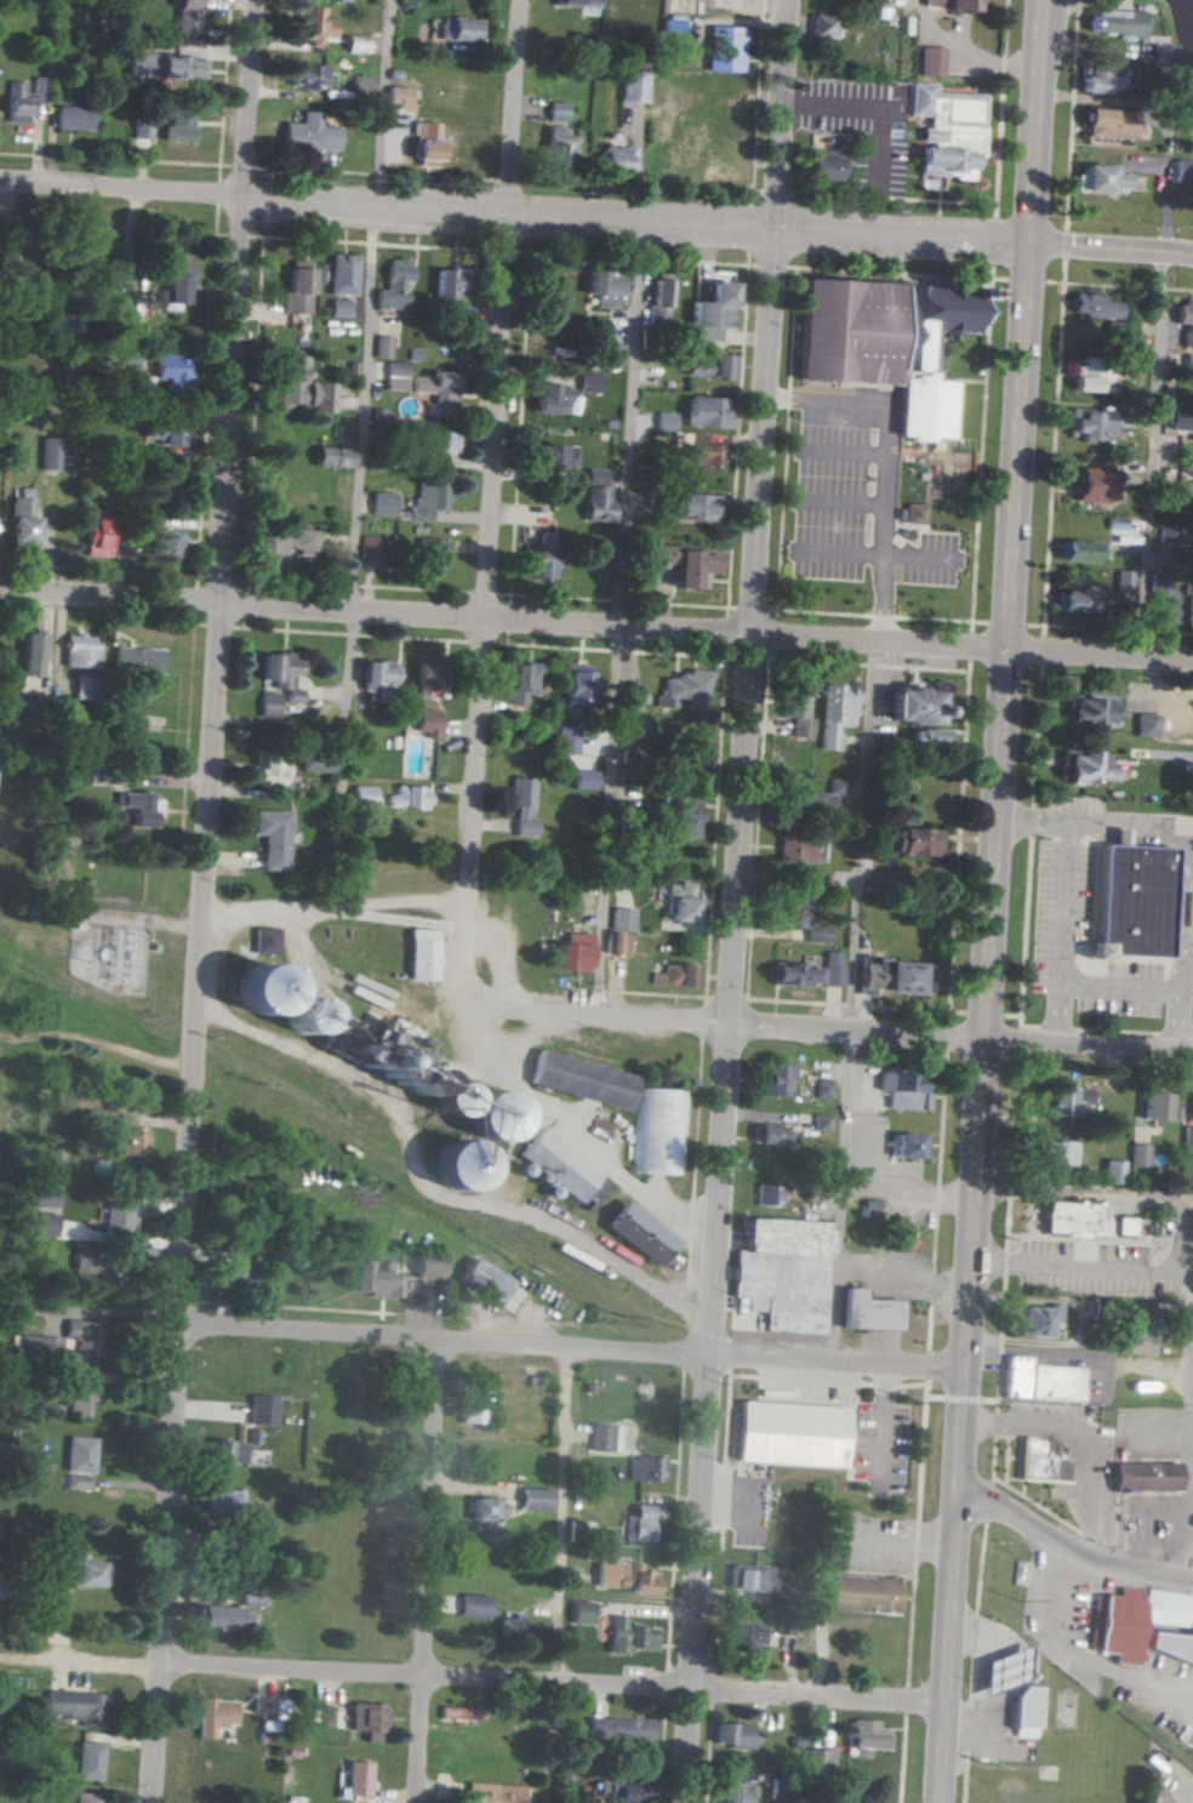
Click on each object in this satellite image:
building: (580, 2)
road: (760, 4)
building: (947, 4)
building: (187, 16)
building: (1115, 23)
building: (312, 25)
building: (823, 25)
building: (461, 29)
building: (725, 49)
building: (1159, 52)
building: (929, 61)
building: (165, 65)
building: (307, 75)
building: (1098, 79)
building: (634, 86)
building: (361, 87)
building: (398, 96)
building: (23, 99)
road: (379, 102)
road: (999, 109)
building: (559, 110)
road: (1071, 116)
building: (73, 118)
building: (1106, 124)
building: (178, 125)
road: (875, 127)
building: (142, 129)
building: (944, 130)
building: (310, 133)
building: (560, 143)
building: (426, 144)
building: (616, 159)
building: (820, 165)
building: (1180, 171)
building: (1100, 179)
road: (1161, 186)
road: (514, 215)
road: (993, 243)
road: (1064, 246)
road: (1111, 250)
building: (342, 274)
road: (992, 279)
road: (1062, 280)
road: (1026, 281)
building: (177, 283)
building: (447, 284)
building: (393, 285)
building: (297, 289)
building: (604, 289)
building: (658, 299)
building: (1092, 307)
building: (337, 308)
building: (712, 312)
building: (1185, 323)
building: (1118, 332)
building: (890, 343)
building: (381, 347)
building: (609, 355)
building: (126, 358)
building: (1187, 360)
building: (708, 366)
building: (173, 371)
building: (395, 376)
building: (1091, 376)
building: (588, 382)
building: (301, 389)
building: (436, 390)
building: (552, 399)
road: (364, 407)
building: (707, 412)
building: (1181, 420)
building: (663, 421)
building: (1092, 424)
road: (627, 427)
building: (165, 432)
building: (440, 441)
building: (50, 453)
building: (701, 453)
building: (552, 455)
road: (1153, 455)
building: (332, 457)
road: (881, 467)
building: (1092, 484)
building: (595, 493)
road: (491, 498)
building: (428, 500)
building: (382, 503)
building: (696, 507)
building: (912, 513)
building: (149, 517)
building: (22, 519)
building: (97, 534)
building: (166, 544)
building: (282, 546)
building: (369, 548)
building: (1078, 552)
building: (540, 554)
road: (872, 555)
building: (430, 557)
building: (686, 565)
building: (1123, 580)
building: (1159, 598)
building: (1077, 600)
building: (1189, 609)
road: (504, 621)
building: (80, 650)
building: (30, 655)
road: (1101, 656)
building: (137, 660)
building: (281, 674)
building: (427, 675)
building: (379, 679)
building: (523, 681)
building: (82, 686)
building: (576, 686)
building: (684, 690)
building: (268, 704)
building: (917, 704)
building: (797, 708)
building: (834, 714)
building: (427, 723)
building: (1145, 725)
building: (635, 728)
building: (565, 740)
building: (927, 740)
building: (315, 763)
building: (693, 763)
building: (1083, 766)
building: (270, 771)
building: (584, 780)
building: (363, 795)
building: (407, 798)
building: (811, 803)
building: (523, 805)
building: (139, 808)
building: (685, 817)
road: (1033, 820)
road: (607, 821)
road: (1118, 825)
building: (272, 839)
road: (856, 839)
building: (914, 841)
building: (794, 846)
road: (201, 901)
road: (740, 901)
road: (993, 901)
building: (1130, 901)
building: (681, 903)
road: (338, 908)
building: (792, 911)
road: (407, 919)
building: (622, 919)
building: (816, 934)
building: (267, 941)
building: (617, 943)
building: (572, 952)
building: (423, 954)
building: (830, 970)
building: (675, 975)
building: (793, 975)
building: (889, 977)
road: (1117, 986)
building: (261, 988)
road: (727, 1027)
road: (1089, 1051)
building: (581, 1079)
building: (775, 1079)
building: (822, 1089)
building: (901, 1089)
building: (1064, 1100)
building: (1154, 1106)
building: (479, 1109)
building: (821, 1123)
road: (578, 1124)
building: (657, 1130)
building: (776, 1135)
building: (1187, 1139)
building: (122, 1143)
building: (907, 1146)
road: (510, 1152)
building: (1054, 1153)
building: (1138, 1156)
building: (458, 1164)
building: (563, 1169)
road: (847, 1171)
building: (1112, 1171)
road: (426, 1187)
road: (1112, 1191)
building: (766, 1194)
building: (45, 1200)
building: (116, 1215)
building: (1074, 1219)
building: (1125, 1226)
building: (52, 1227)
road: (897, 1231)
building: (639, 1234)
building: (82, 1265)
road: (833, 1267)
road: (1078, 1268)
road: (901, 1272)
building: (109, 1273)
building: (783, 1273)
building: (236, 1274)
building: (377, 1282)
building: (491, 1284)
building: (867, 1312)
building: (1039, 1320)
building: (1143, 1324)
building: (82, 1337)
building: (38, 1347)
road: (571, 1348)
road: (1075, 1358)
road: (1188, 1359)
building: (1040, 1381)
building: (80, 1402)
building: (476, 1402)
building: (262, 1410)
road: (1022, 1427)
building: (793, 1432)
building: (253, 1436)
building: (605, 1438)
building: (229, 1451)
building: (80, 1454)
building: (1040, 1461)
building: (644, 1468)
building: (1146, 1477)
building: (81, 1482)
road: (1089, 1493)
park: (367, 1499)
building: (535, 1499)
building: (222, 1504)
building: (486, 1512)
road: (558, 1514)
building: (645, 1522)
road: (1069, 1542)
road: (424, 1571)
building: (624, 1576)
building: (749, 1577)
building: (863, 1593)
building: (475, 1605)
building: (581, 1613)
building: (222, 1617)
building: (1120, 1625)
building: (516, 1628)
building: (629, 1636)
building: (746, 1639)
road: (78, 1661)
building: (1012, 1670)
road: (547, 1682)
building: (262, 1705)
building: (78, 1706)
building: (1032, 1706)
building: (215, 1716)
building: (326, 1716)
building: (370, 1721)
building: (618, 1730)
building: (734, 1735)
building: (866, 1738)
road: (550, 1742)
building: (818, 1759)
building: (89, 1761)
building: (358, 1779)
building: (623, 1790)
building: (495, 1793)
building: (738, 1795)
building: (86, 1798)

